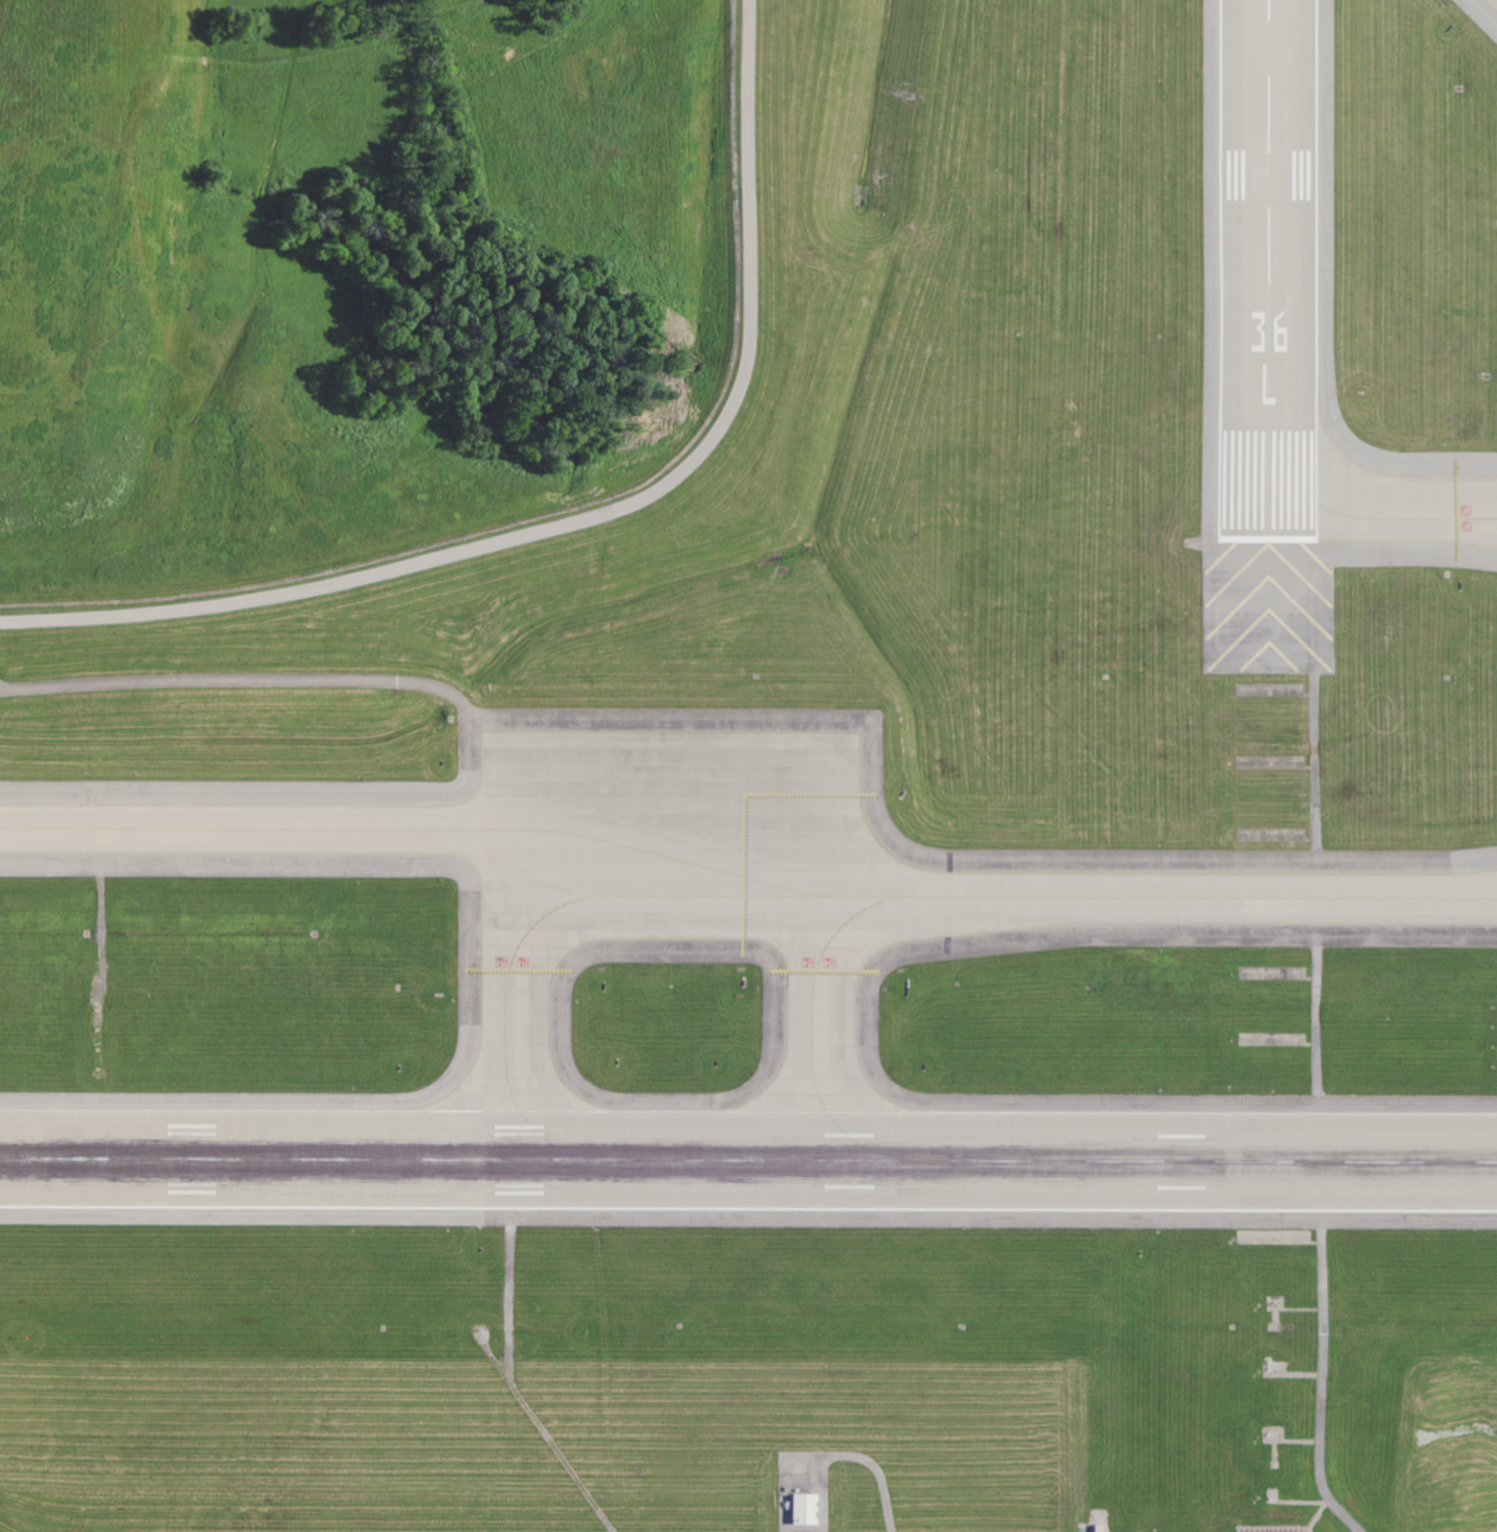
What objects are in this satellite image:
road: (747, 219)
airport runway: (1279, 320)
airport taxiway: (1388, 510)
road: (373, 571)
road: (276, 682)
airport taxiway: (674, 762)
airport: (833, 869)
airport taxiway: (746, 886)
road: (1314, 892)
airport taxiway: (526, 960)
airport taxiway: (824, 962)
airport runway: (748, 1160)
road: (1316, 1347)
road: (879, 1474)
building: (803, 1508)
road: (1336, 1513)
road: (1083, 1530)

